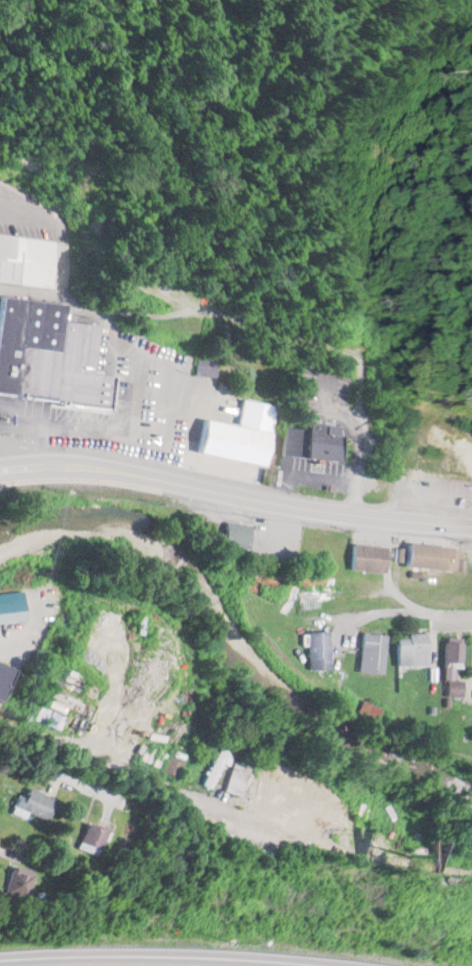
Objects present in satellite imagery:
road: (3, 221)
building: (26, 256)
building: (49, 356)
building: (208, 365)
road: (31, 403)
road: (130, 413)
building: (239, 433)
building: (310, 440)
road: (235, 492)
building: (235, 534)
building: (431, 556)
building: (366, 557)
road: (407, 604)
road: (5, 646)
building: (410, 646)
building: (319, 649)
building: (373, 652)
building: (452, 668)
building: (4, 678)
building: (172, 765)
building: (215, 765)
road: (142, 771)
building: (261, 794)
building: (34, 803)
building: (94, 837)
building: (18, 881)
road: (163, 952)

